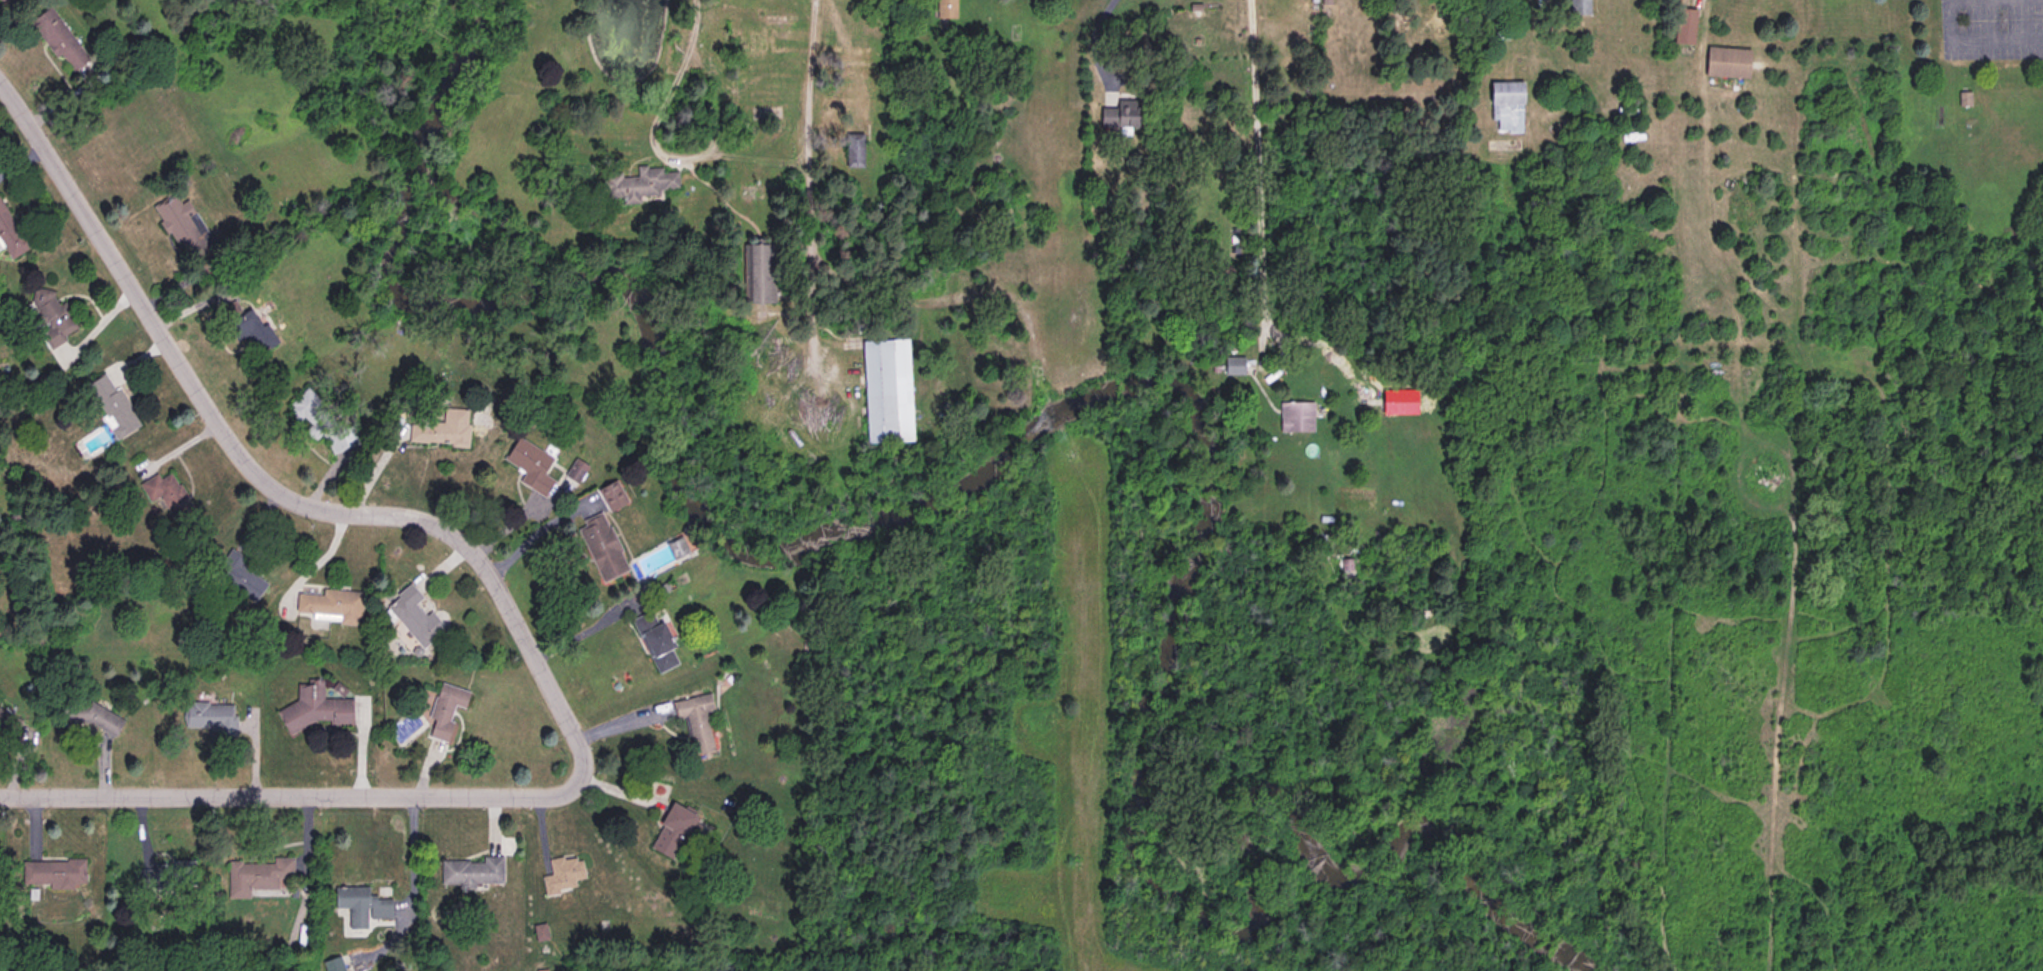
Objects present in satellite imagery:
building: (3, 1)
building: (1578, 7)
building: (946, 9)
road: (687, 23)
building: (1684, 26)
building: (58, 39)
road: (1976, 39)
road: (1090, 45)
building: (1726, 61)
building: (1506, 106)
building: (1122, 114)
building: (772, 116)
road: (807, 145)
building: (854, 150)
road: (677, 155)
road: (1251, 161)
building: (637, 182)
building: (183, 229)
building: (10, 233)
building: (758, 272)
building: (51, 316)
road: (99, 323)
building: (250, 329)
building: (1233, 366)
building: (886, 391)
building: (112, 406)
building: (1296, 417)
building: (321, 422)
building: (441, 429)
building: (529, 465)
building: (575, 472)
building: (164, 493)
building: (611, 495)
road: (536, 533)
building: (601, 547)
road: (316, 557)
building: (1347, 565)
building: (238, 577)
road: (510, 603)
building: (330, 605)
building: (413, 617)
road: (587, 629)
building: (654, 641)
building: (314, 709)
building: (443, 710)
building: (86, 716)
building: (212, 717)
building: (695, 721)
building: (671, 832)
building: (471, 871)
building: (53, 872)
building: (166, 874)
building: (562, 874)
building: (257, 875)
building: (362, 906)

